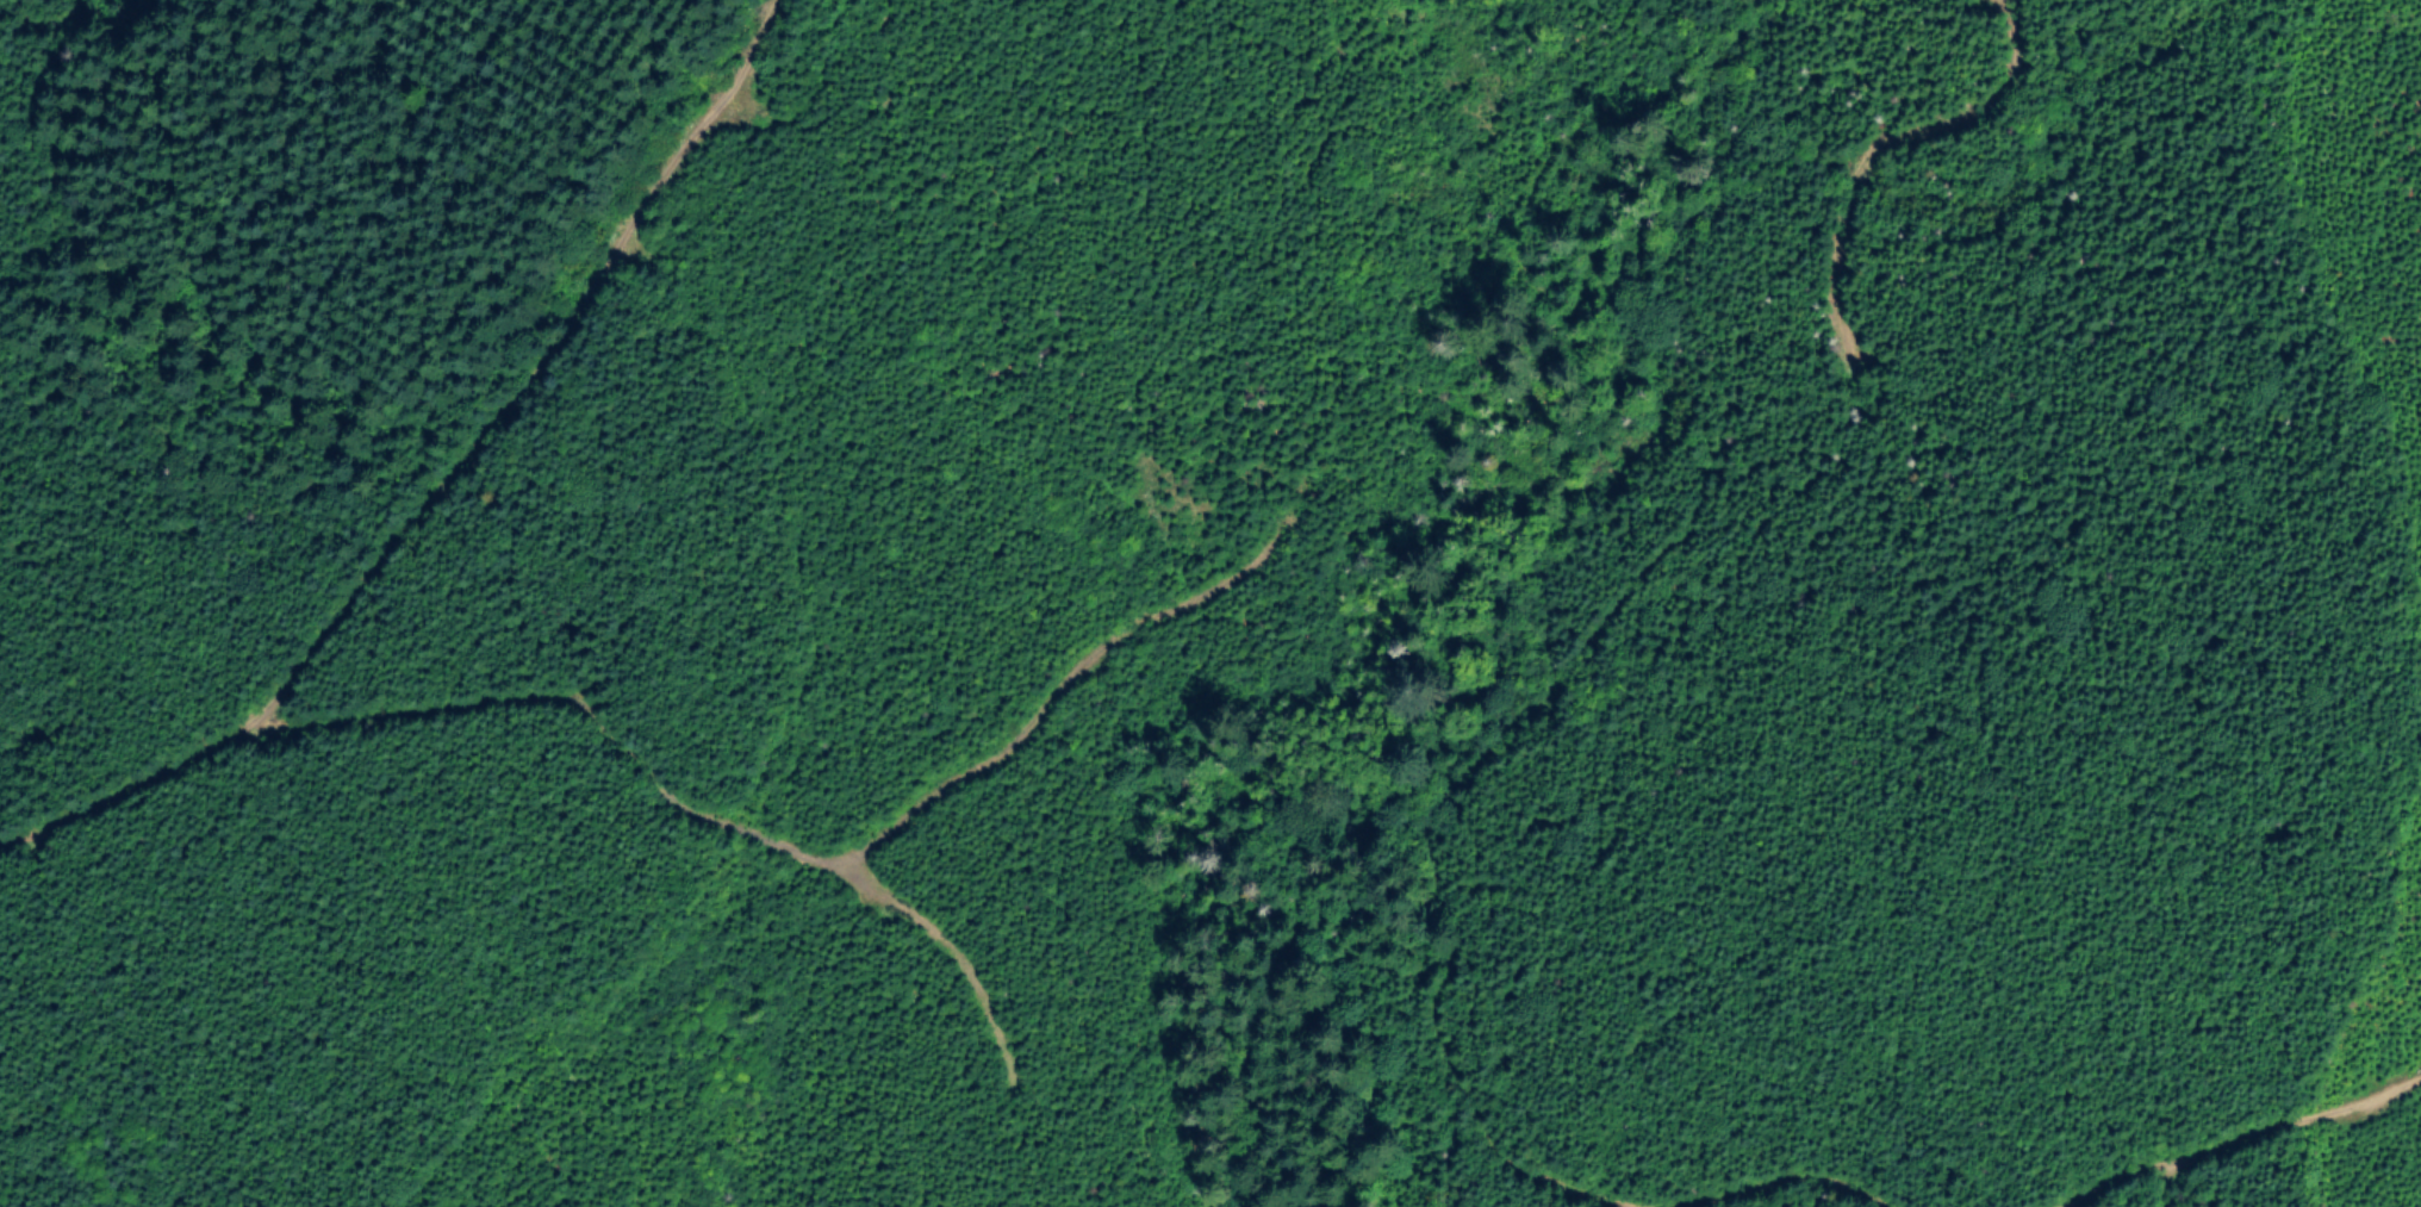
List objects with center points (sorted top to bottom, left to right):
road: (1545, 1164)
road: (1997, 1187)

